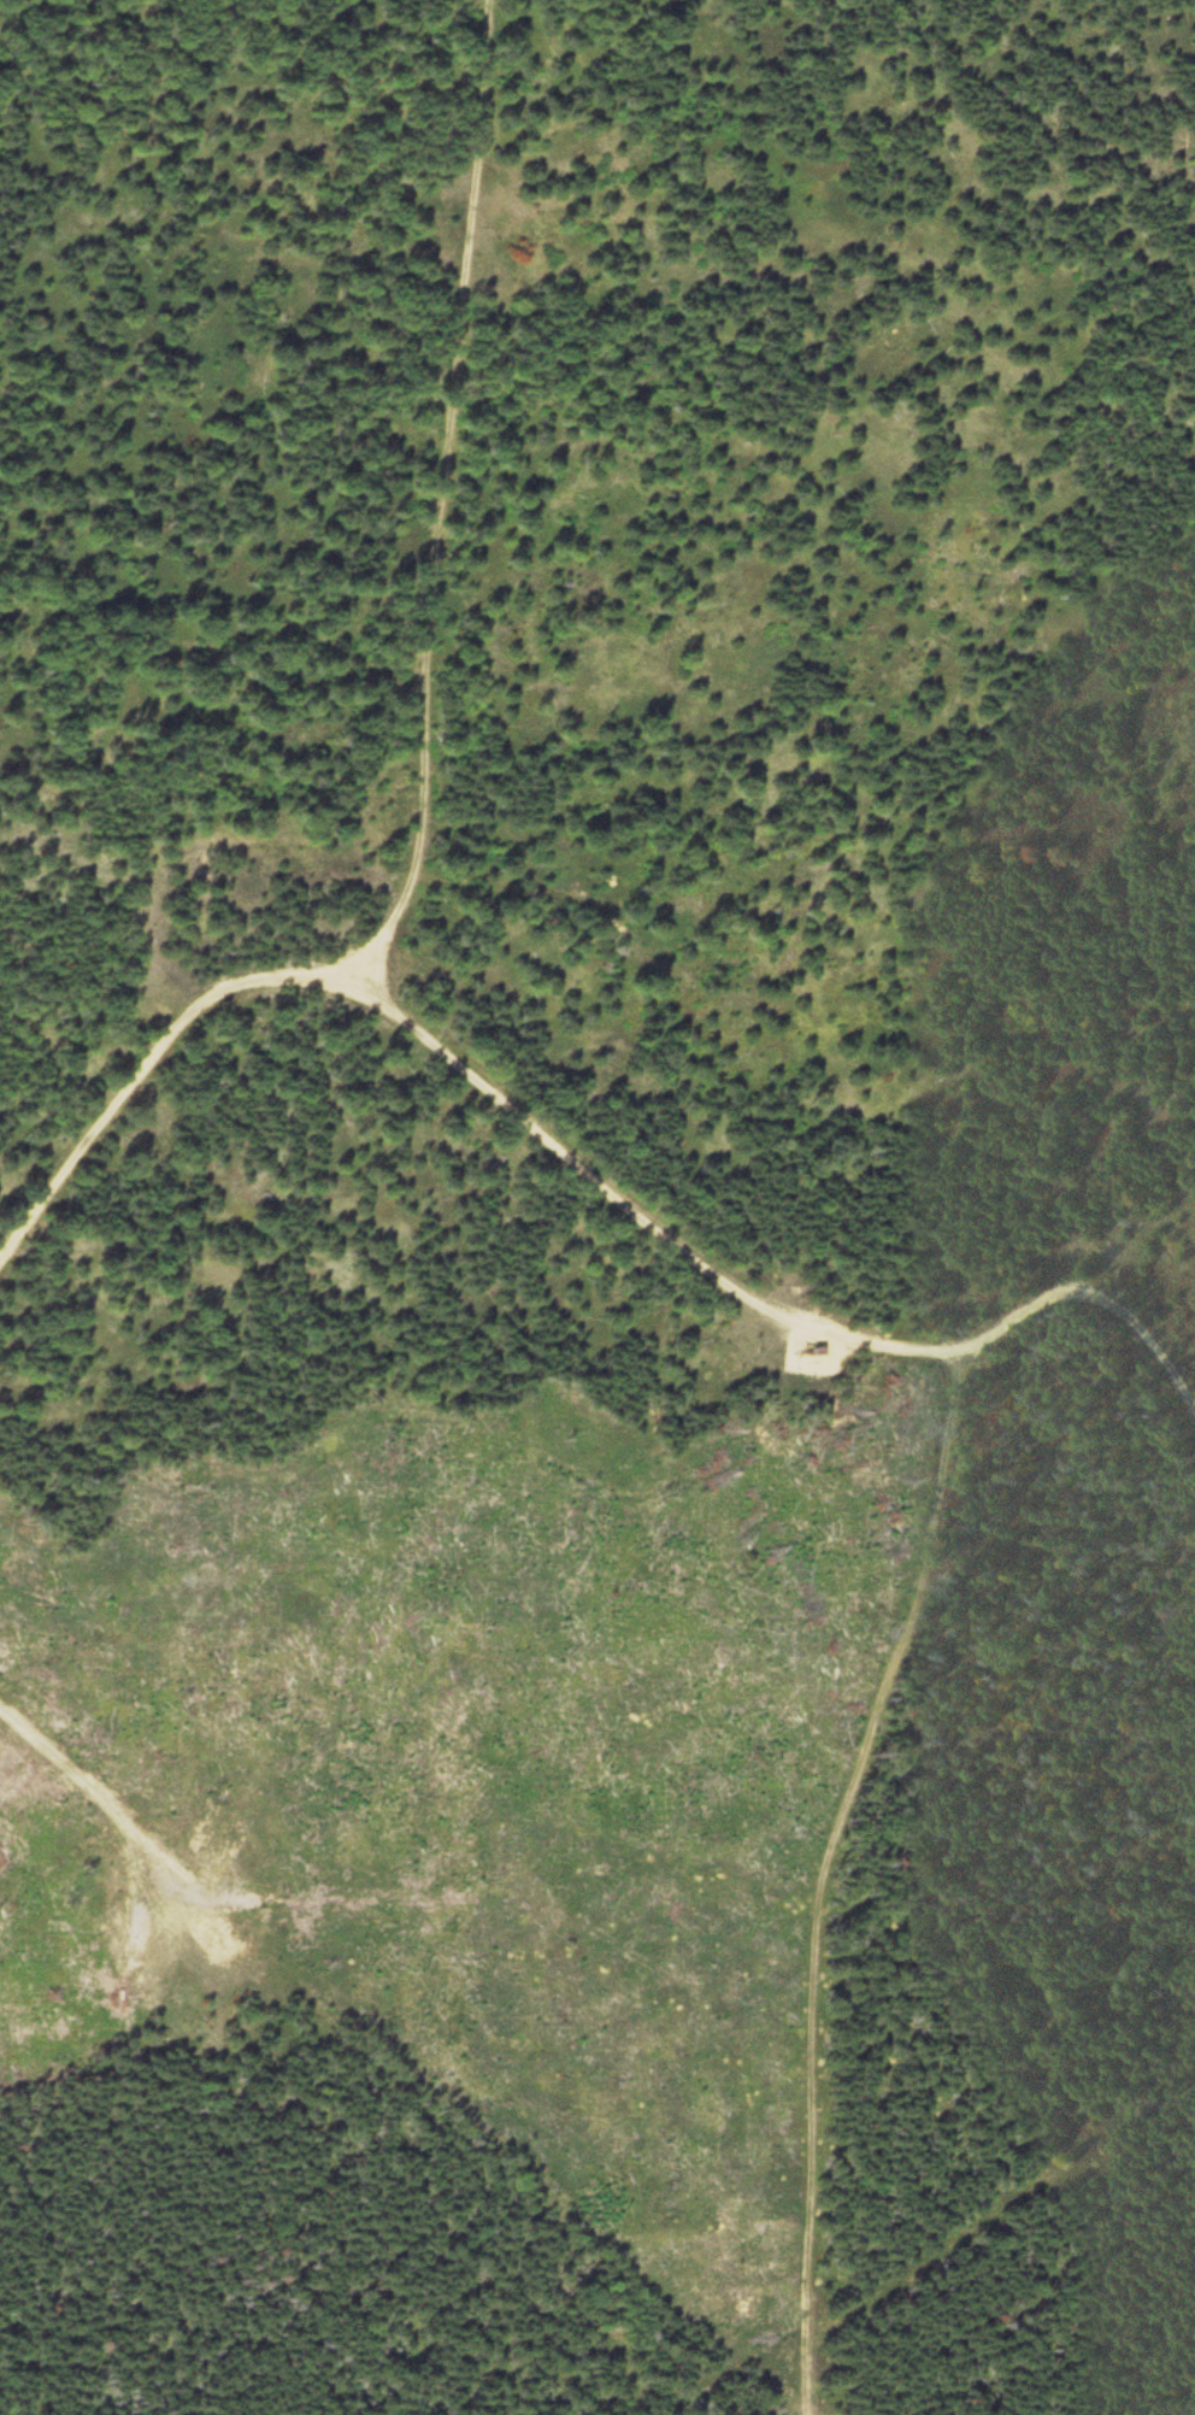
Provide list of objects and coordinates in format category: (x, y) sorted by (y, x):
road: (1034, 122)
road: (445, 494)
road: (494, 1086)
road: (1136, 1221)
road: (1149, 1327)
petroleum well: (818, 1353)
road: (89, 1797)
road: (818, 1865)
petroleum well: (228, 1937)

